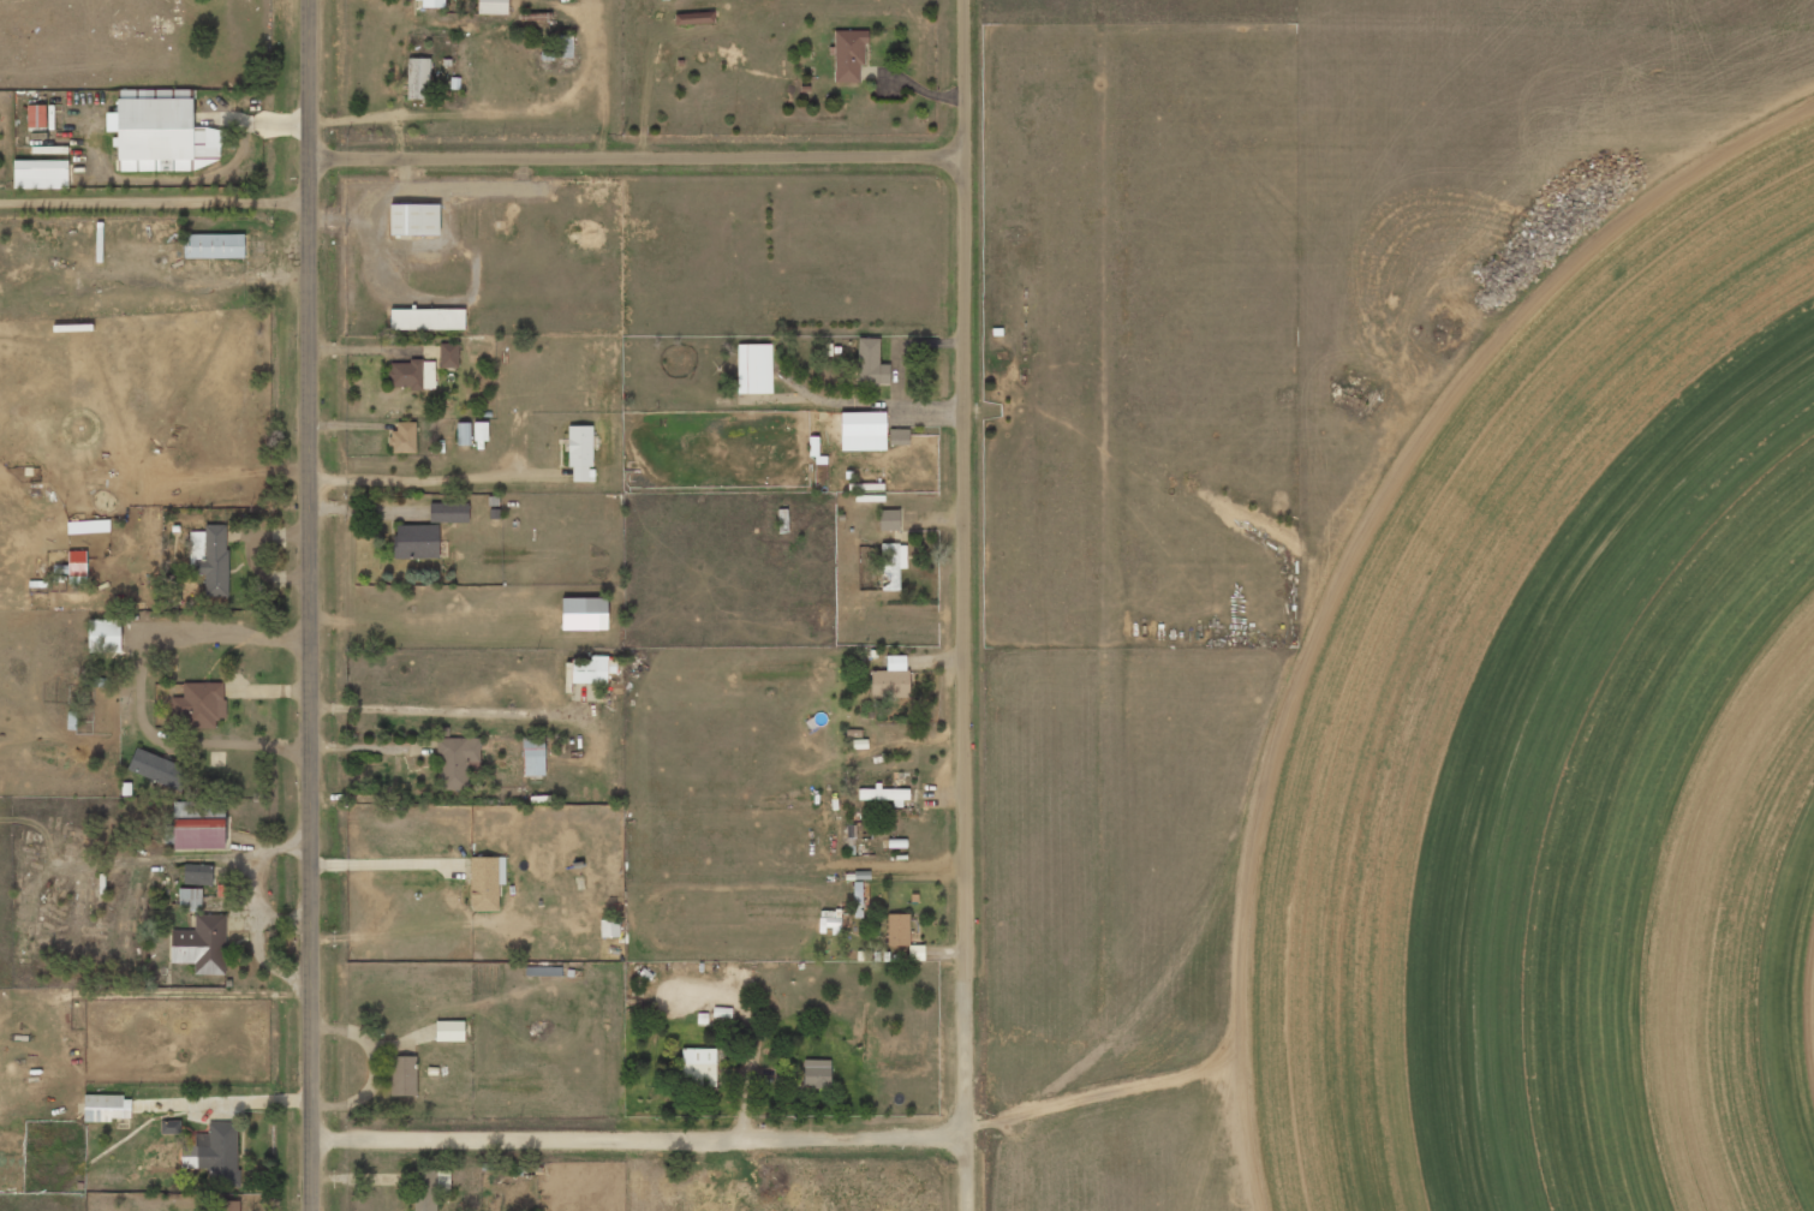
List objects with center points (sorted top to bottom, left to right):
building: (429, 2)
building: (491, 6)
building: (693, 18)
building: (563, 46)
building: (848, 54)
building: (418, 78)
building: (36, 115)
building: (163, 132)
road: (639, 153)
building: (40, 174)
building: (413, 219)
building: (214, 245)
building: (426, 318)
building: (448, 354)
building: (870, 363)
building: (753, 368)
building: (412, 375)
building: (481, 431)
building: (863, 431)
building: (463, 434)
building: (402, 439)
building: (580, 453)
building: (448, 512)
building: (888, 520)
building: (416, 541)
building: (210, 557)
building: (891, 565)
building: (77, 566)
road: (315, 605)
road: (966, 605)
building: (584, 613)
building: (103, 636)
building: (591, 669)
building: (890, 679)
building: (99, 686)
building: (199, 704)
building: (533, 756)
building: (458, 762)
building: (159, 769)
building: (884, 795)
building: (198, 833)
building: (197, 873)
building: (483, 884)
building: (857, 893)
building: (189, 900)
building: (609, 927)
building: (897, 929)
building: (202, 944)
building: (449, 1031)
building: (698, 1067)
building: (816, 1073)
building: (402, 1075)
building: (107, 1108)
building: (169, 1127)
road: (642, 1133)
building: (203, 1155)
building: (429, 1188)
building: (228, 1205)

